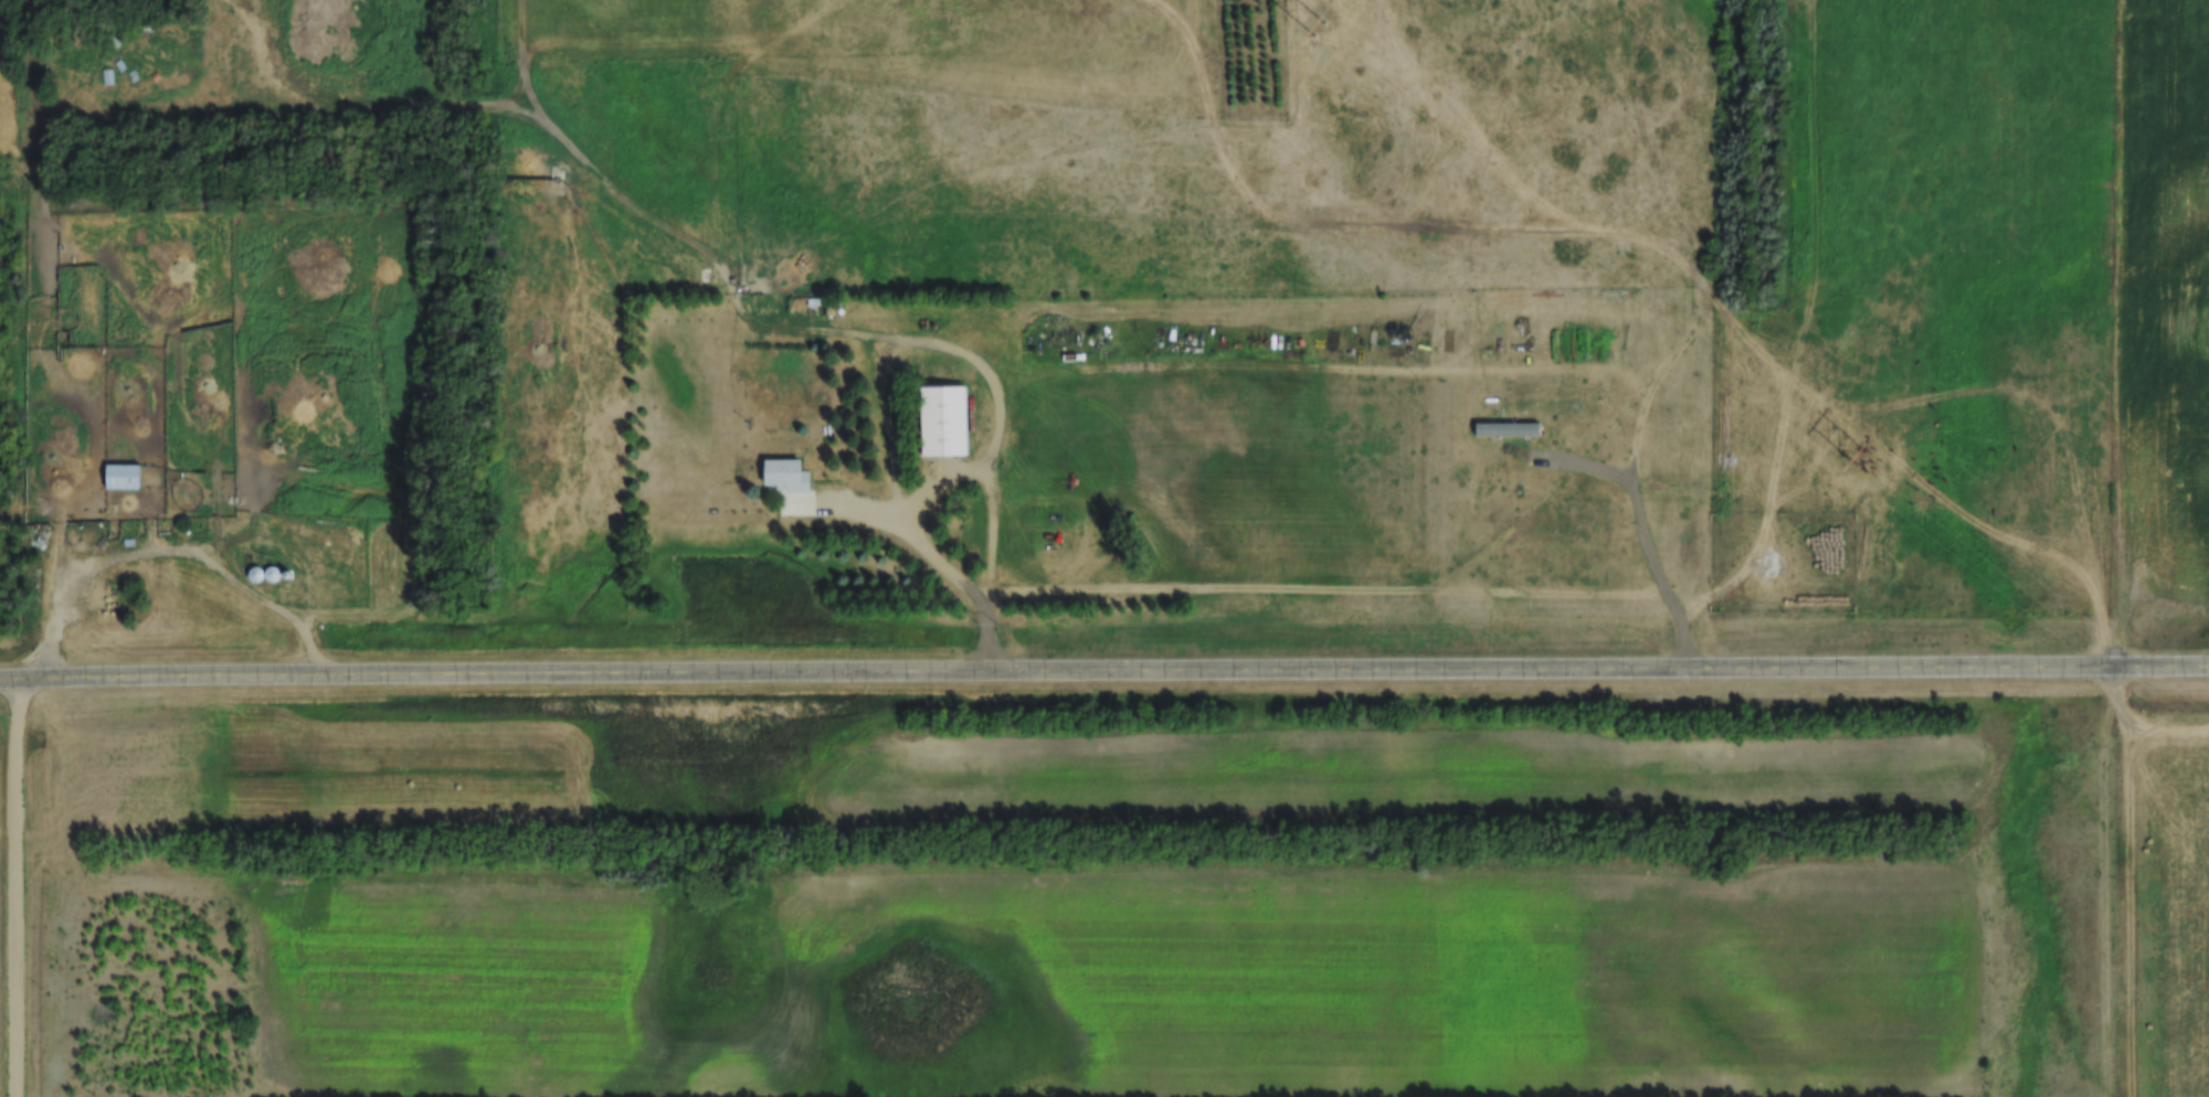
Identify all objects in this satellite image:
power tower: (1314, 22)
road: (1692, 340)
road: (885, 365)
building: (941, 419)
power tower: (1868, 462)
building: (126, 477)
building: (788, 486)
road: (2125, 548)
road: (171, 553)
building: (269, 575)
road: (1373, 594)
road: (1103, 677)
road: (15, 890)

